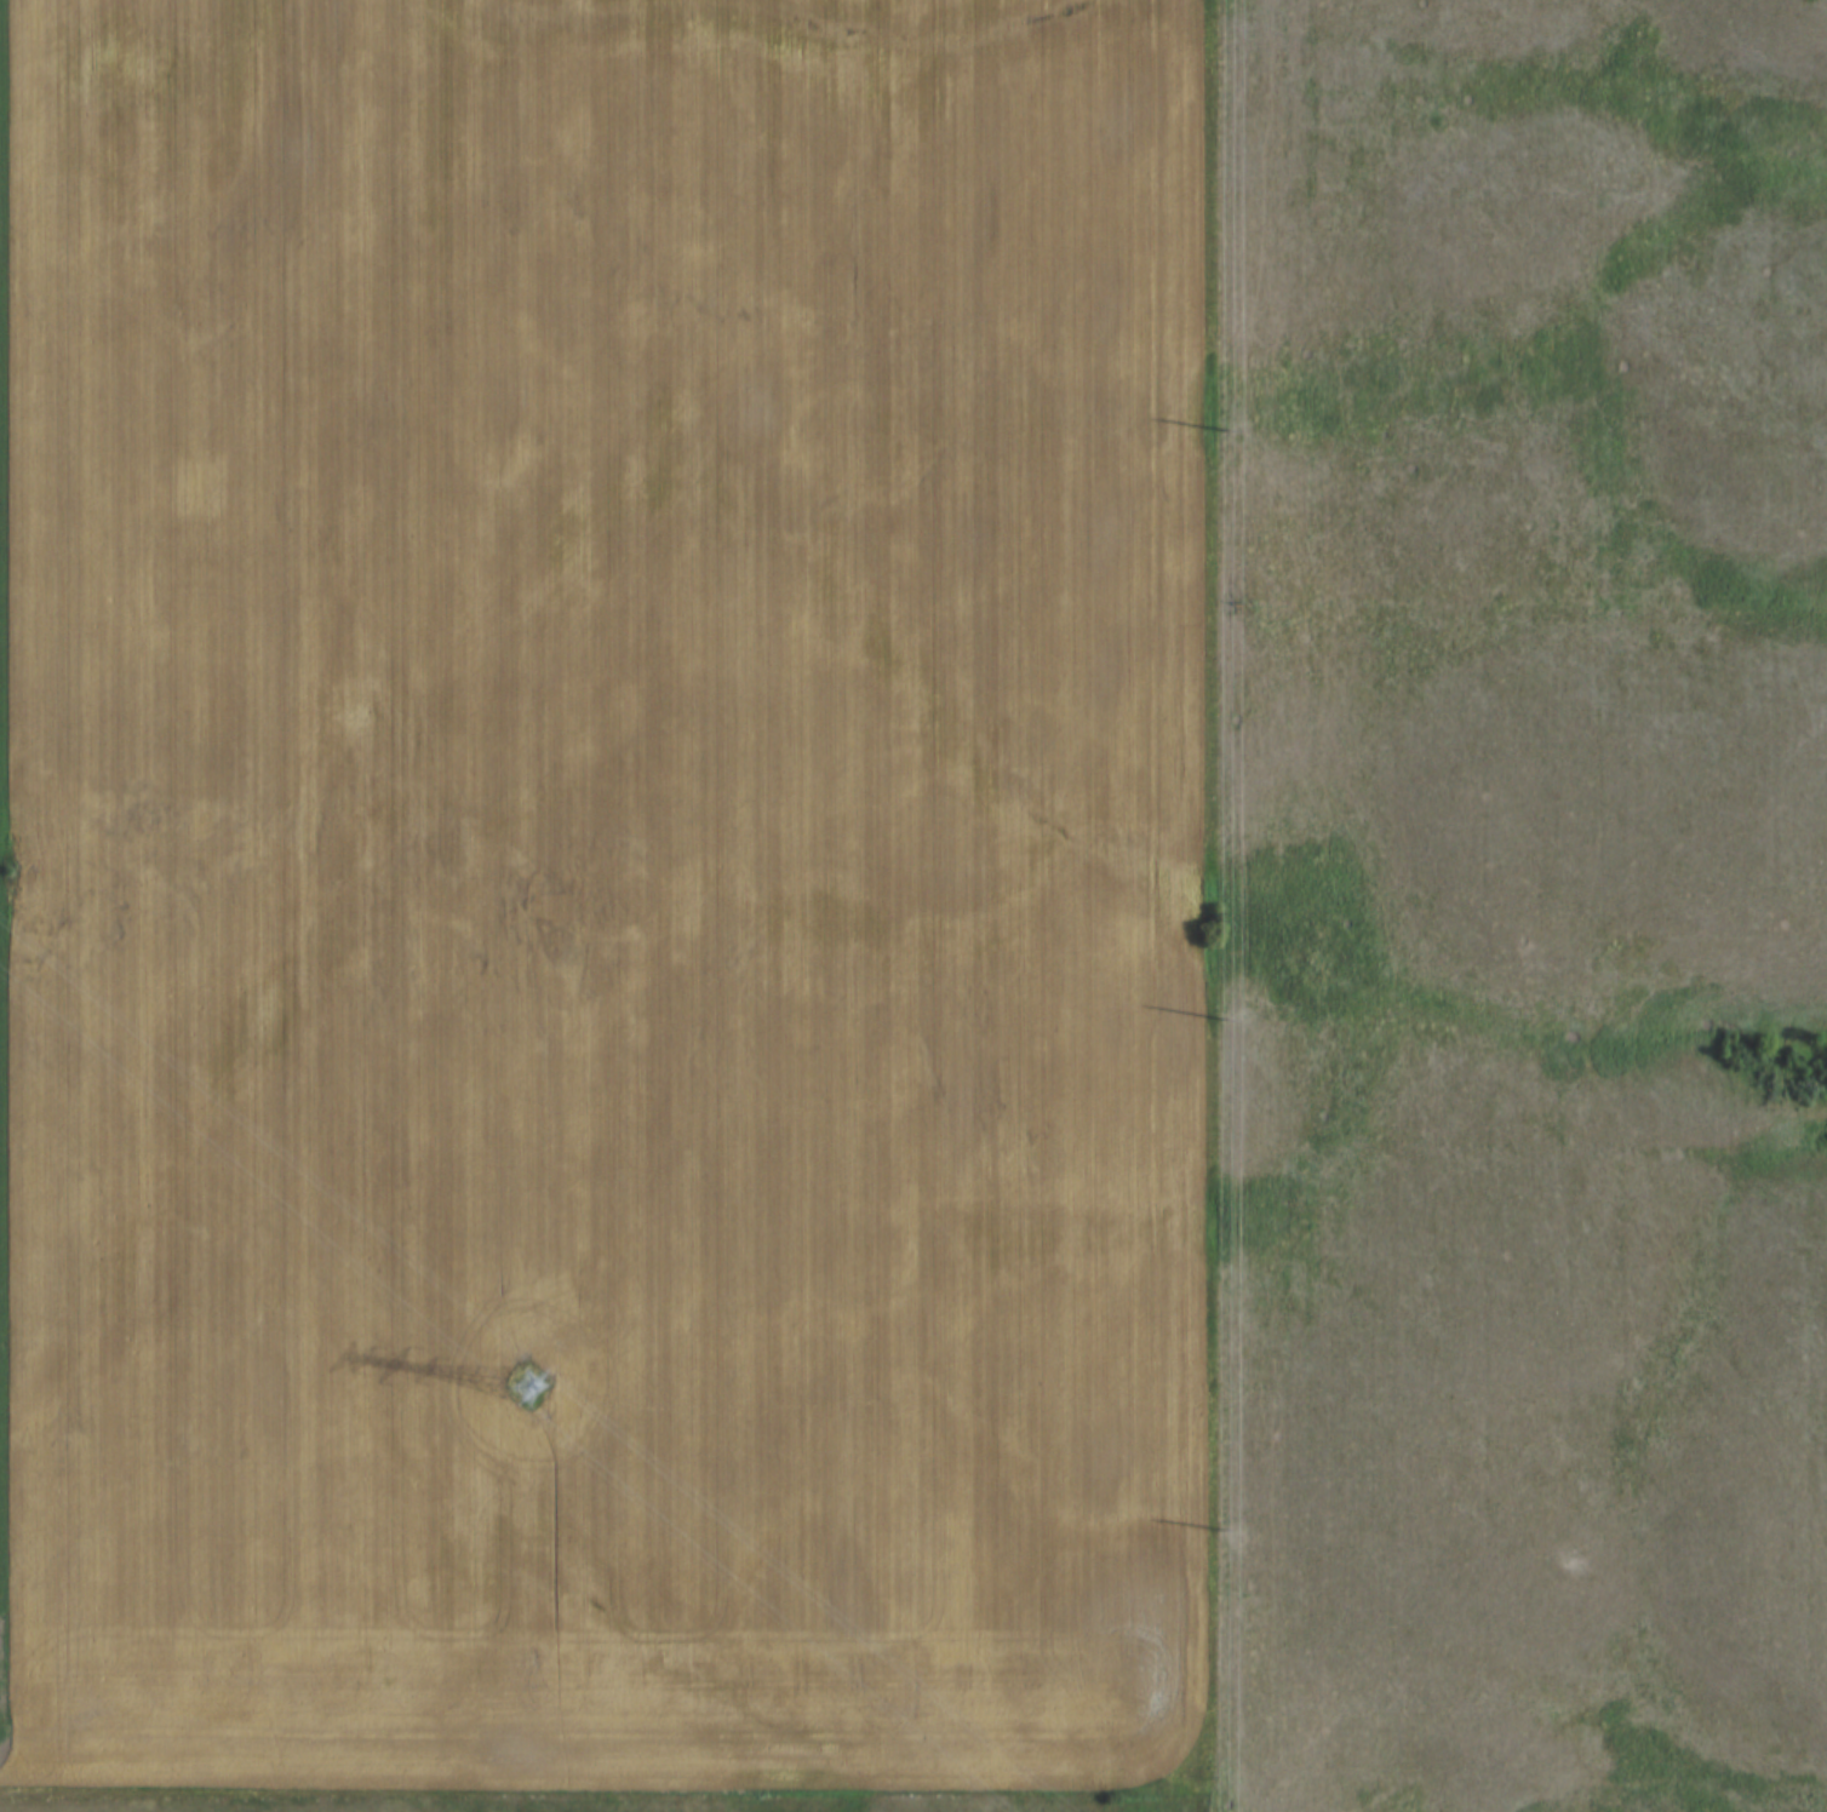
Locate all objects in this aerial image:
power tower: (543, 1388)

